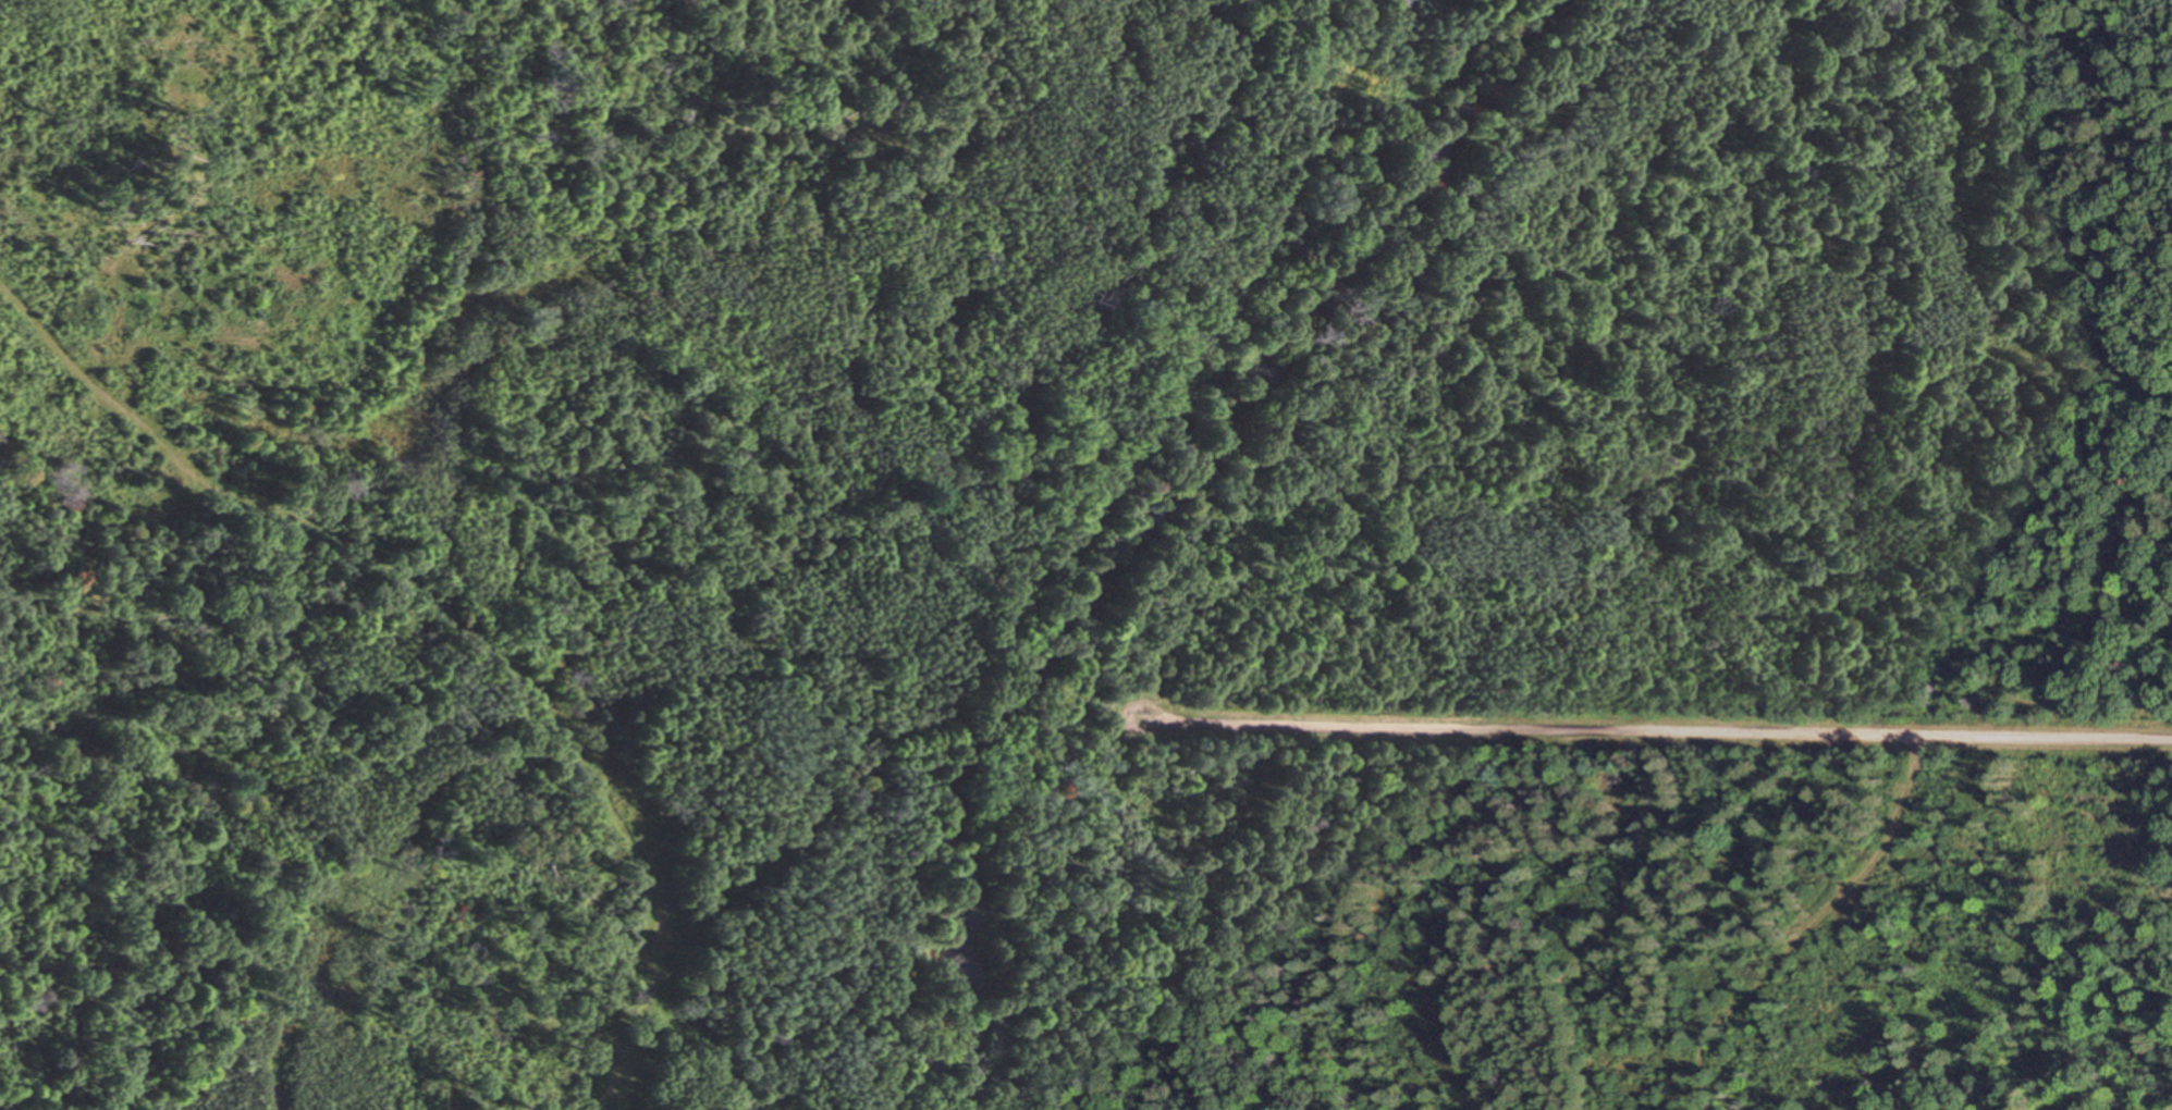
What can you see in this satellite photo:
road: (1072, 538)
road: (1667, 731)

